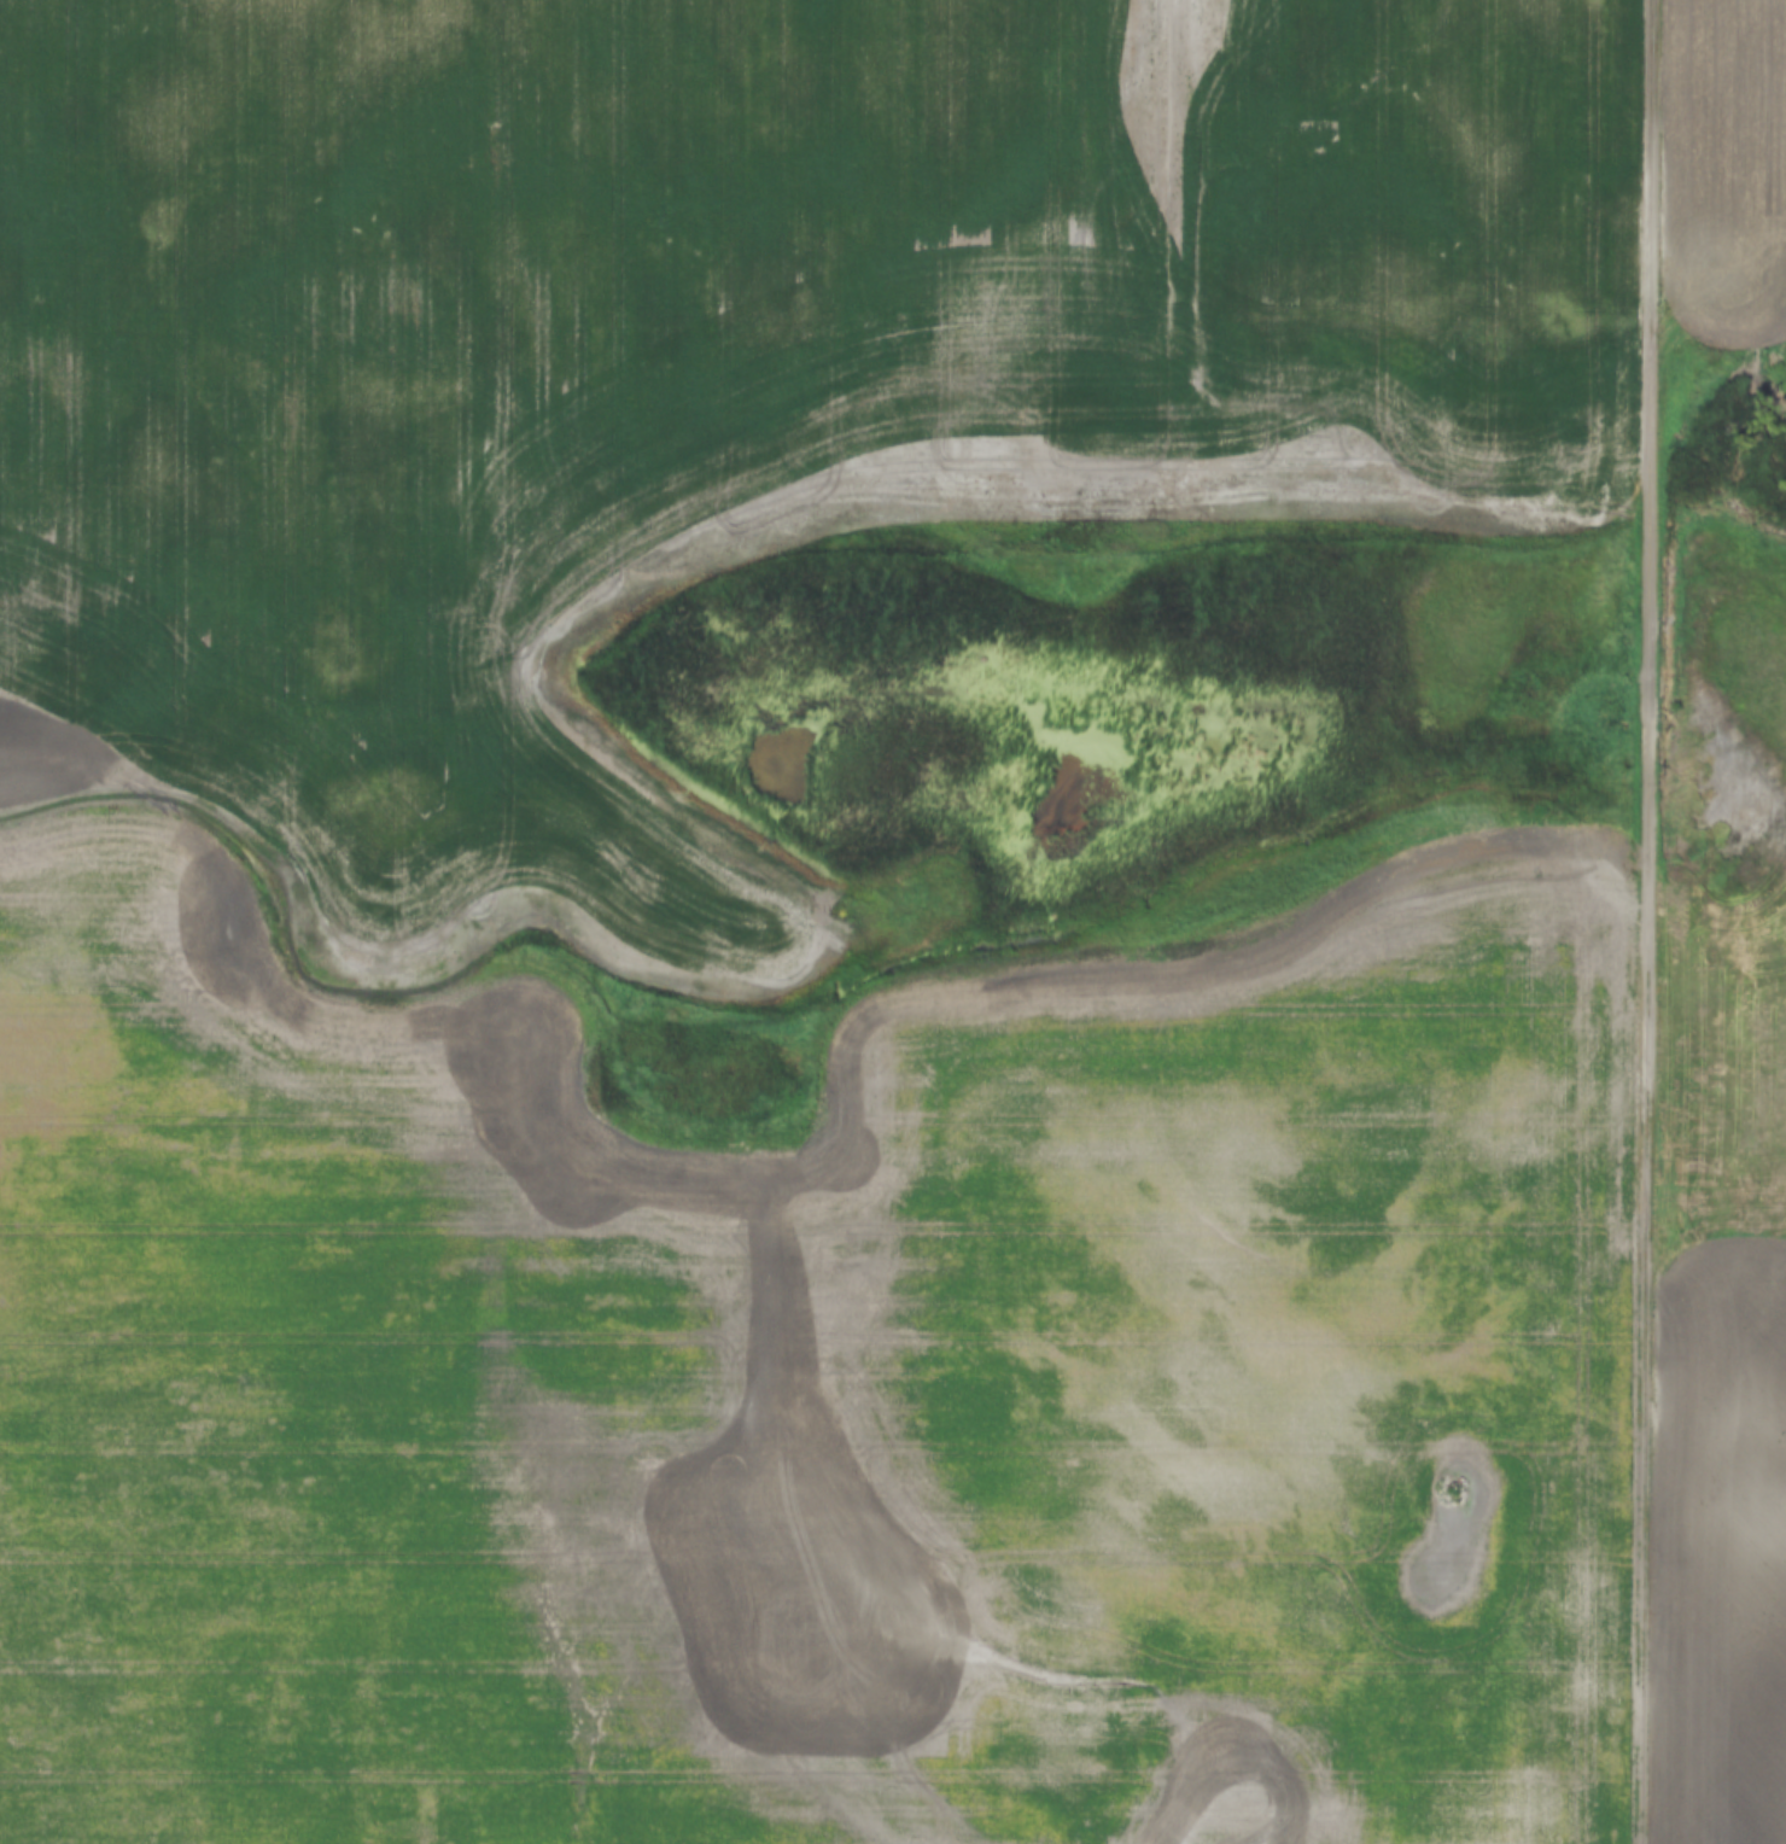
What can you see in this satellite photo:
road: (1650, 922)

